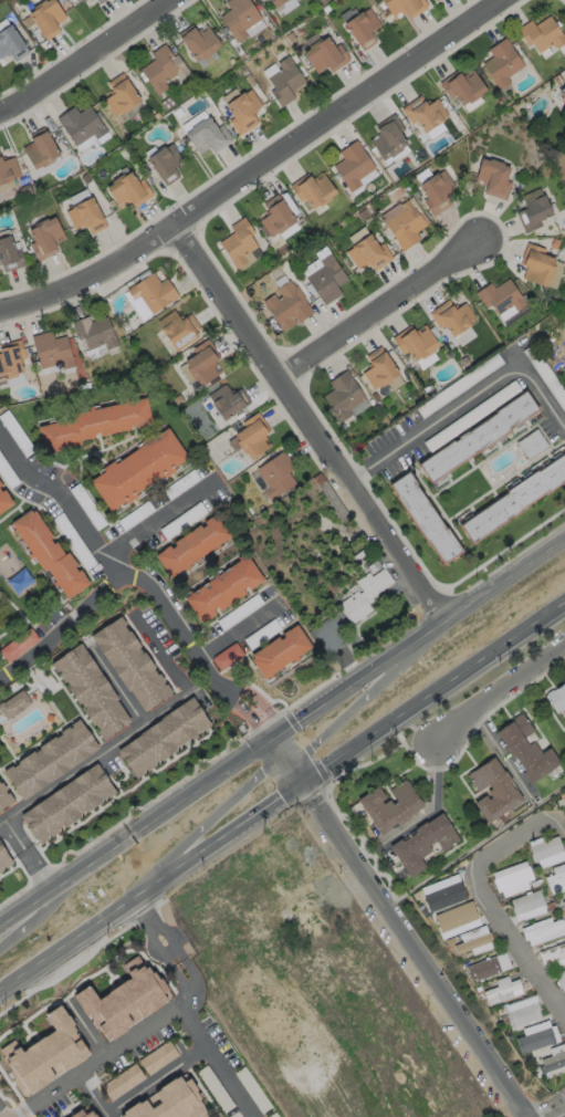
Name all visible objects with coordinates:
building: (81, 0)
building: (84, 0)
building: (437, 0)
building: (102, 1)
building: (279, 2)
building: (405, 7)
building: (240, 18)
building: (48, 19)
building: (363, 28)
building: (542, 33)
building: (200, 42)
building: (12, 44)
road: (79, 51)
building: (325, 54)
building: (501, 62)
building: (165, 70)
building: (564, 79)
building: (284, 81)
building: (462, 86)
building: (562, 95)
building: (122, 96)
building: (242, 111)
building: (425, 112)
building: (82, 125)
building: (207, 135)
building: (388, 137)
building: (42, 149)
building: (165, 163)
building: (353, 165)
road: (259, 167)
building: (9, 170)
building: (493, 177)
building: (127, 189)
building: (312, 189)
building: (25, 191)
building: (436, 191)
building: (533, 209)
building: (85, 215)
building: (275, 216)
building: (404, 221)
building: (44, 237)
building: (240, 244)
building: (368, 252)
building: (10, 254)
building: (536, 264)
building: (326, 279)
building: (153, 292)
building: (500, 295)
building: (286, 305)
road: (380, 309)
building: (451, 316)
building: (178, 328)
building: (94, 332)
building: (414, 342)
building: (52, 349)
building: (10, 358)
building: (202, 362)
building: (378, 367)
building: (562, 375)
building: (344, 396)
road: (468, 396)
building: (228, 400)
road: (311, 420)
building: (96, 424)
building: (252, 435)
building: (480, 439)
building: (139, 471)
building: (275, 474)
road: (59, 488)
building: (3, 502)
building: (517, 502)
building: (428, 520)
road: (154, 523)
building: (67, 532)
building: (42, 543)
building: (195, 545)
road: (145, 585)
building: (222, 587)
building: (363, 593)
building: (240, 612)
road: (233, 627)
building: (262, 631)
building: (13, 635)
building: (18, 644)
building: (279, 653)
building: (227, 655)
building: (132, 662)
road: (118, 687)
building: (91, 693)
building: (556, 696)
building: (11, 698)
road: (499, 698)
road: (366, 702)
road: (139, 727)
road: (282, 729)
building: (165, 738)
traffic signals: (270, 739)
building: (527, 747)
building: (46, 751)
road: (503, 756)
building: (3, 786)
traffic signals: (303, 787)
building: (493, 789)
building: (564, 797)
building: (3, 800)
road: (282, 801)
building: (67, 803)
building: (389, 805)
road: (433, 807)
road: (561, 822)
road: (199, 824)
building: (423, 841)
building: (545, 848)
building: (3, 852)
road: (25, 854)
building: (512, 878)
building: (555, 879)
building: (443, 894)
building: (526, 902)
building: (563, 902)
road: (485, 904)
road: (147, 914)
building: (457, 915)
road: (25, 918)
road: (397, 927)
building: (542, 928)
road: (171, 937)
building: (474, 943)
road: (156, 947)
building: (552, 952)
building: (483, 968)
road: (193, 972)
road: (180, 980)
building: (559, 980)
building: (502, 988)
building: (123, 1000)
building: (523, 1013)
road: (86, 1026)
building: (534, 1040)
building: (43, 1043)
road: (109, 1053)
building: (158, 1054)
road: (217, 1061)
building: (553, 1061)
road: (156, 1078)
building: (121, 1079)
building: (217, 1088)
building: (252, 1089)
road: (94, 1095)
building: (169, 1103)
road: (551, 1110)
road: (2, 1113)
building: (90, 1114)
road: (20, 1115)
building: (273, 1115)

